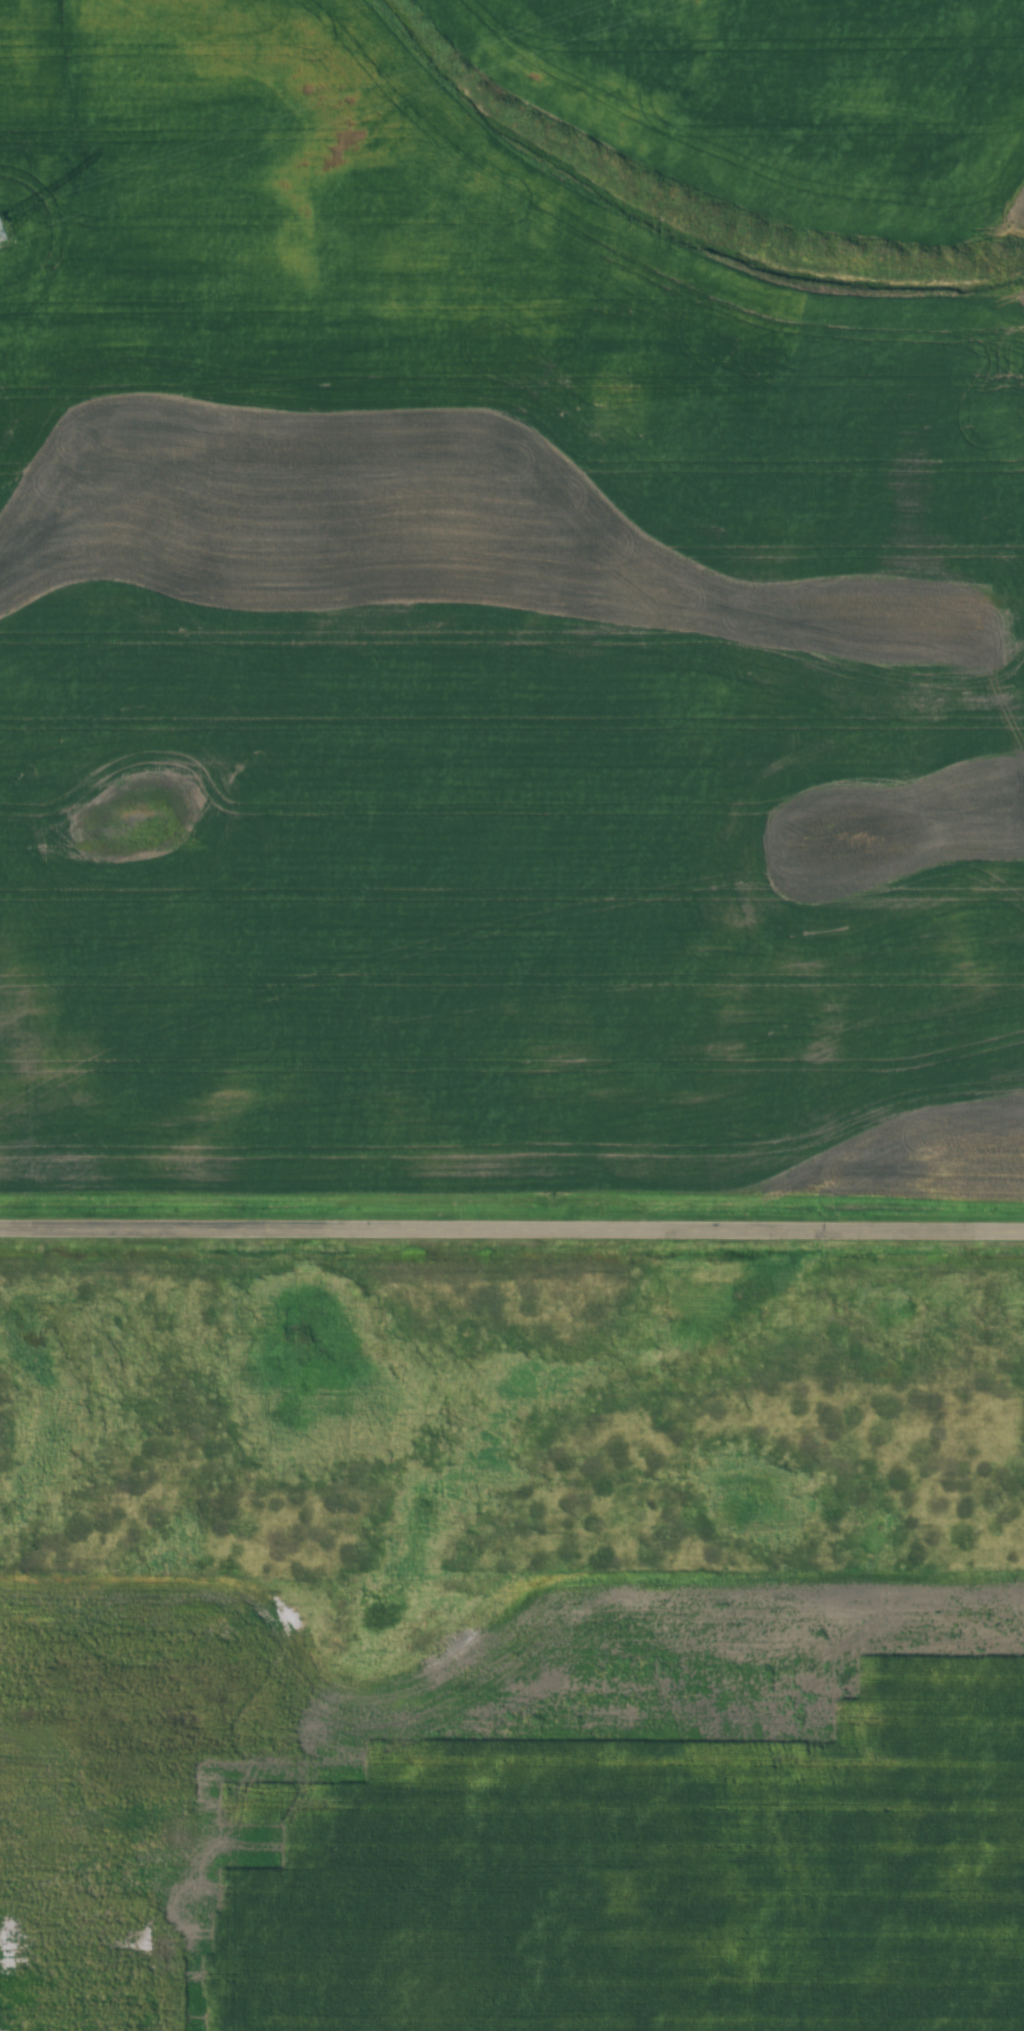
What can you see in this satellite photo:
road: (512, 1228)

